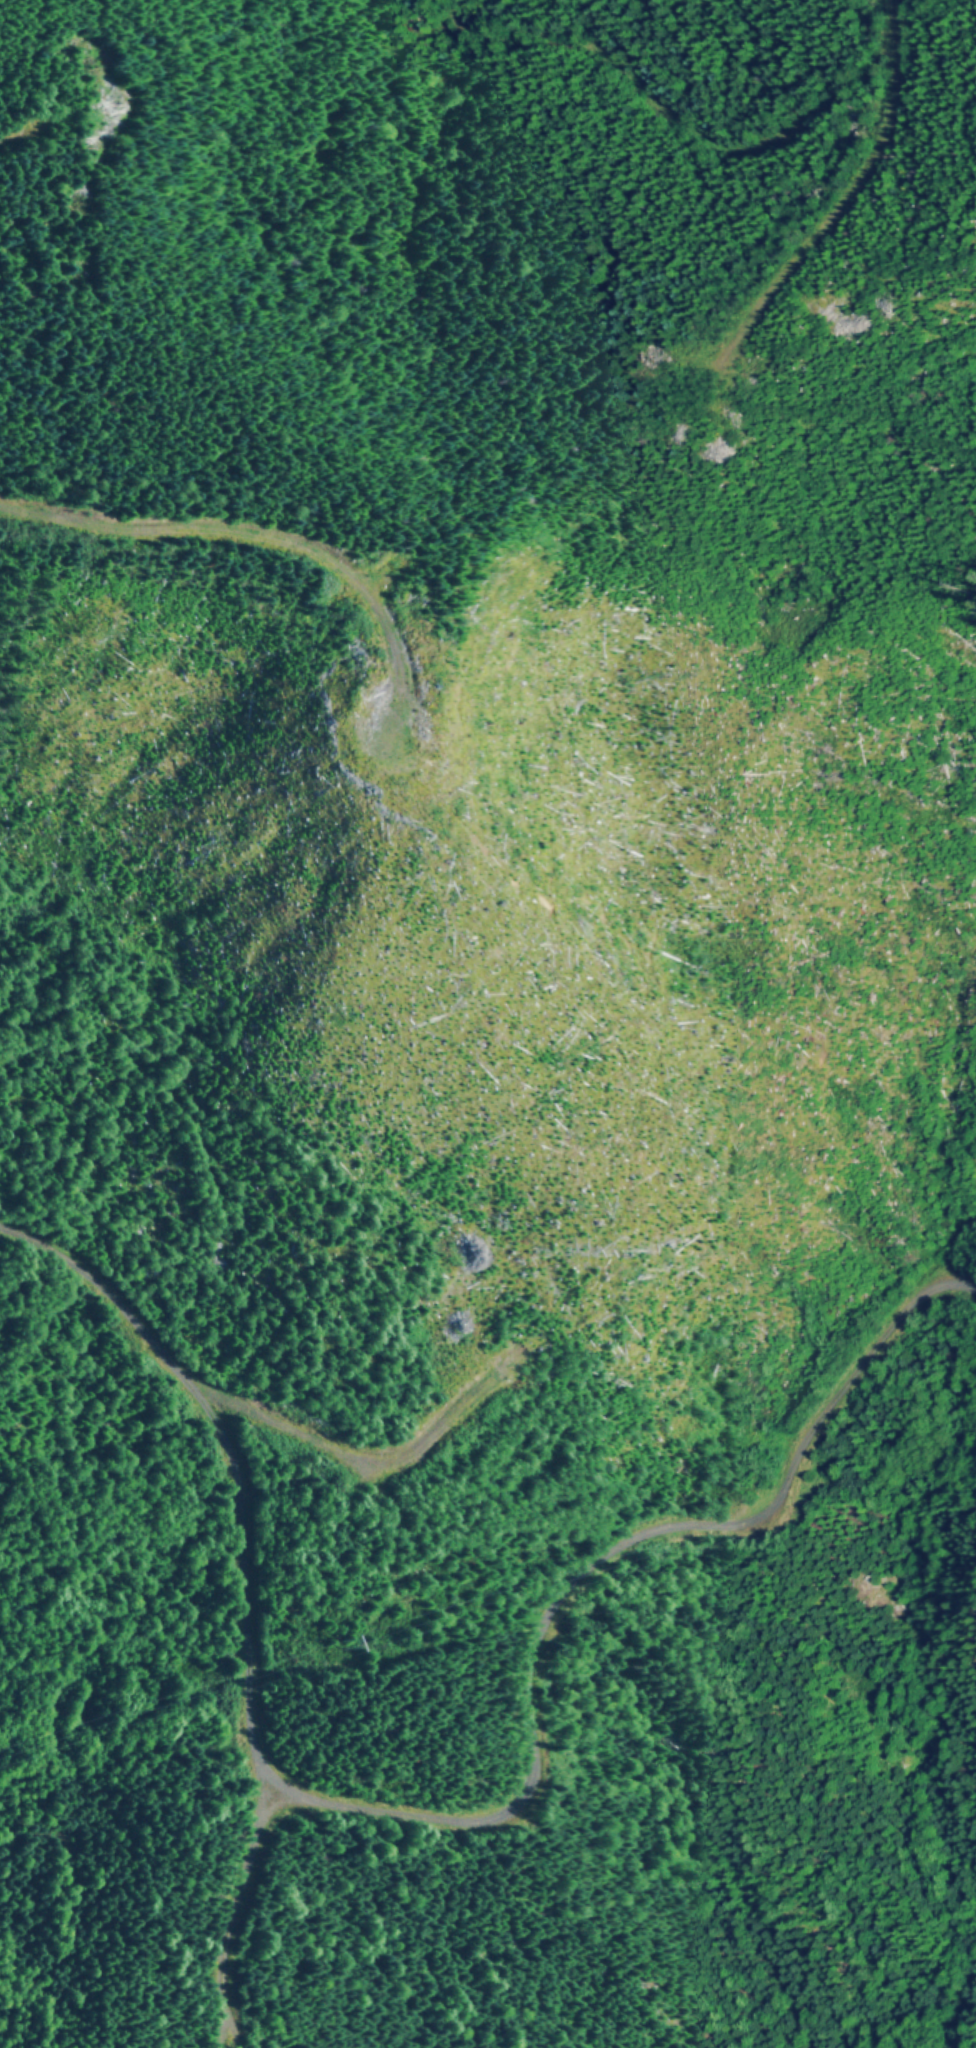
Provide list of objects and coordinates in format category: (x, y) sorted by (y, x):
road: (466, 522)
road: (203, 1477)
road: (528, 1666)

